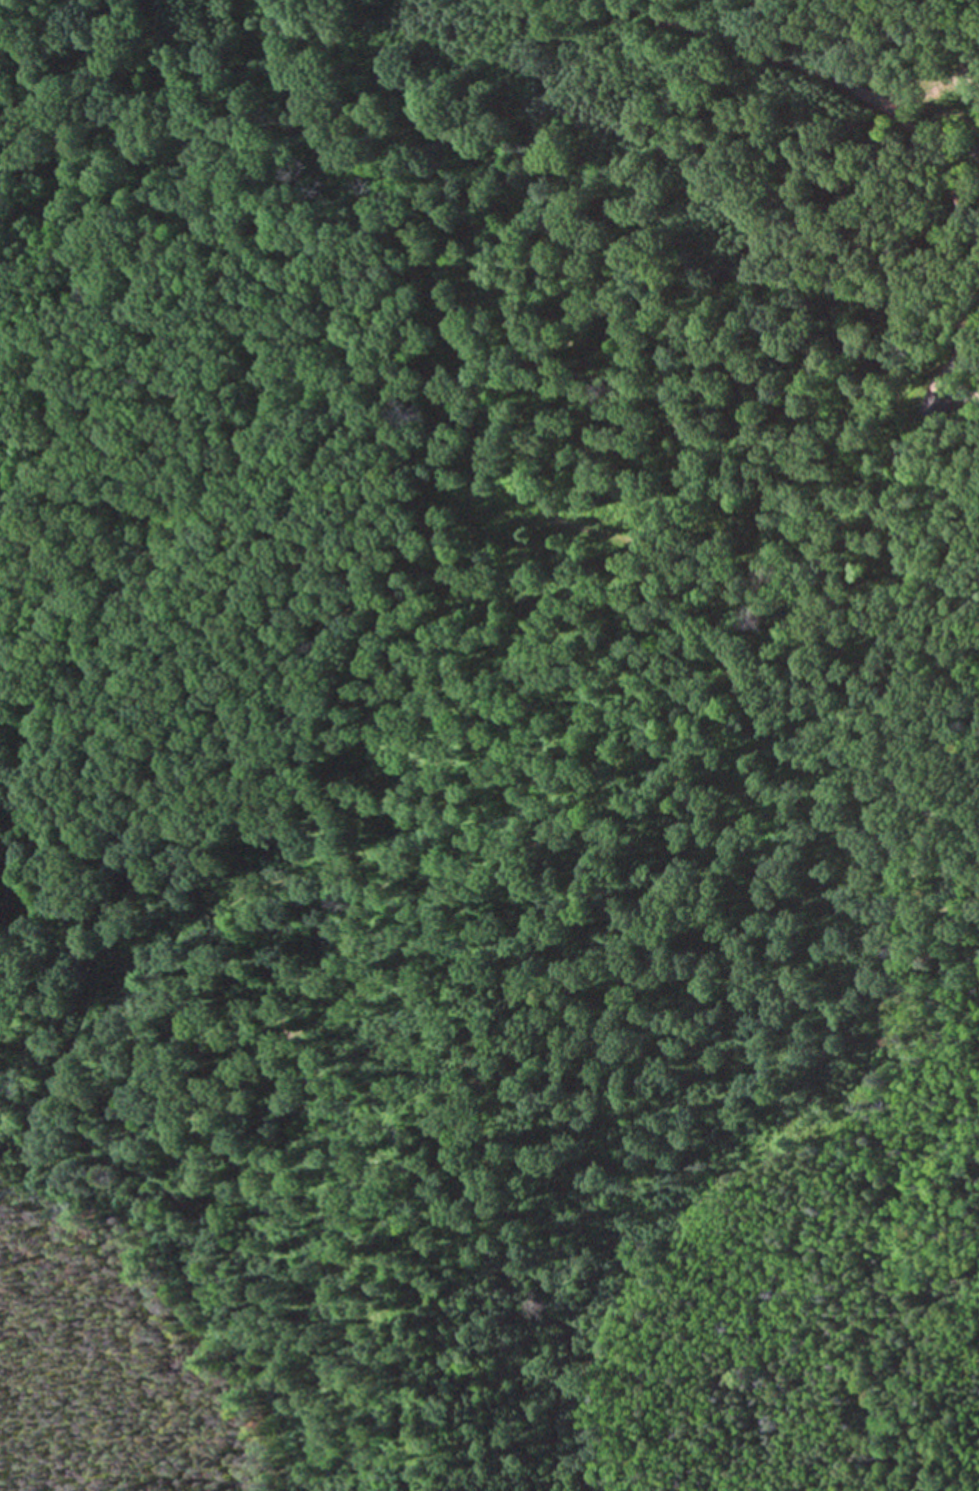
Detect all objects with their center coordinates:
road: (924, 110)
road: (869, 114)

